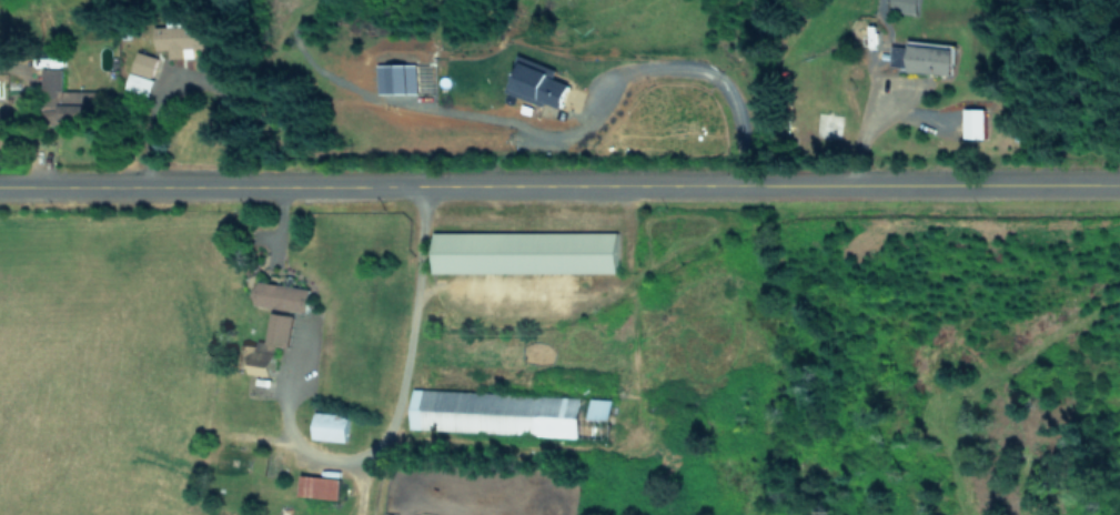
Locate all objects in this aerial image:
building: (902, 4)
building: (181, 38)
building: (920, 58)
building: (141, 72)
building: (394, 78)
building: (533, 81)
road: (609, 83)
building: (59, 94)
building: (972, 122)
road: (865, 134)
road: (559, 186)
building: (522, 252)
building: (279, 295)
building: (276, 329)
building: (261, 361)
building: (597, 407)
building: (493, 412)
building: (327, 426)
road: (340, 455)
building: (316, 486)

